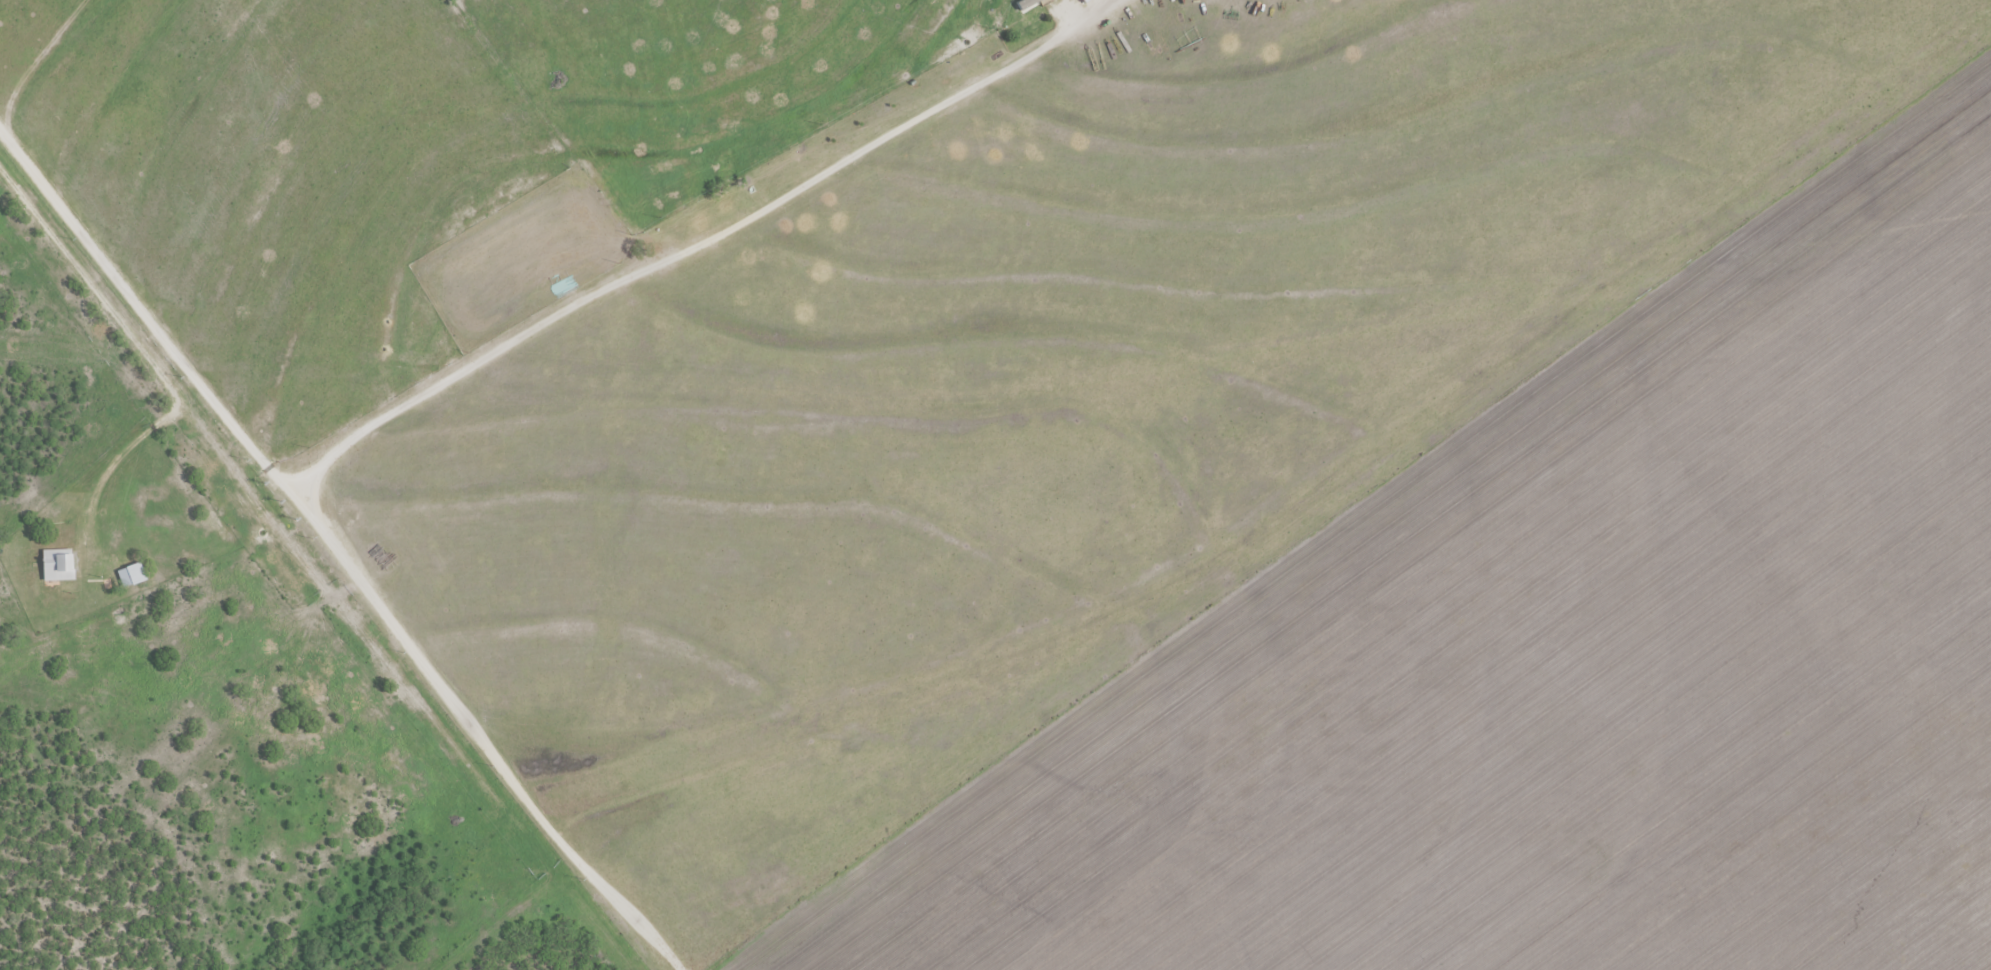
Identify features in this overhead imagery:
road: (689, 250)
road: (149, 366)
road: (335, 551)
building: (58, 568)

